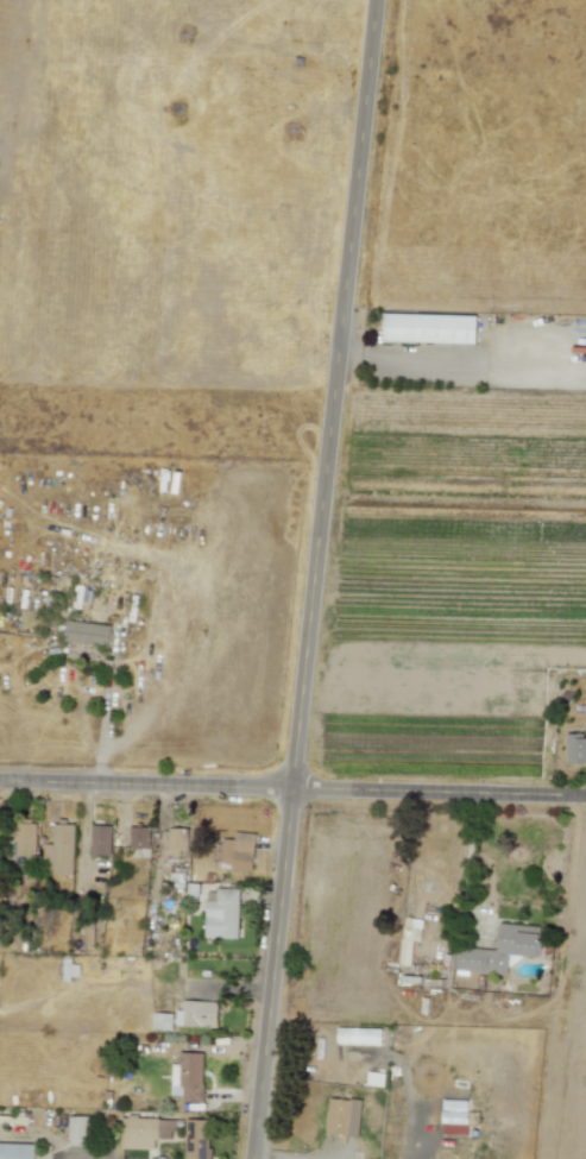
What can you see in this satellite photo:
building: (428, 328)
road: (402, 353)
road: (317, 579)
building: (87, 632)
building: (575, 748)
road: (292, 788)
building: (139, 837)
building: (100, 839)
building: (25, 842)
building: (176, 843)
building: (58, 851)
building: (238, 851)
building: (221, 913)
building: (409, 938)
building: (499, 950)
building: (197, 1014)
building: (162, 1021)
building: (359, 1035)
building: (188, 1077)
road: (405, 1077)
building: (374, 1078)
building: (344, 1116)
building: (454, 1116)
building: (76, 1128)
building: (144, 1132)
building: (196, 1140)
building: (15, 1151)
road: (71, 1157)
road: (270, 1157)

